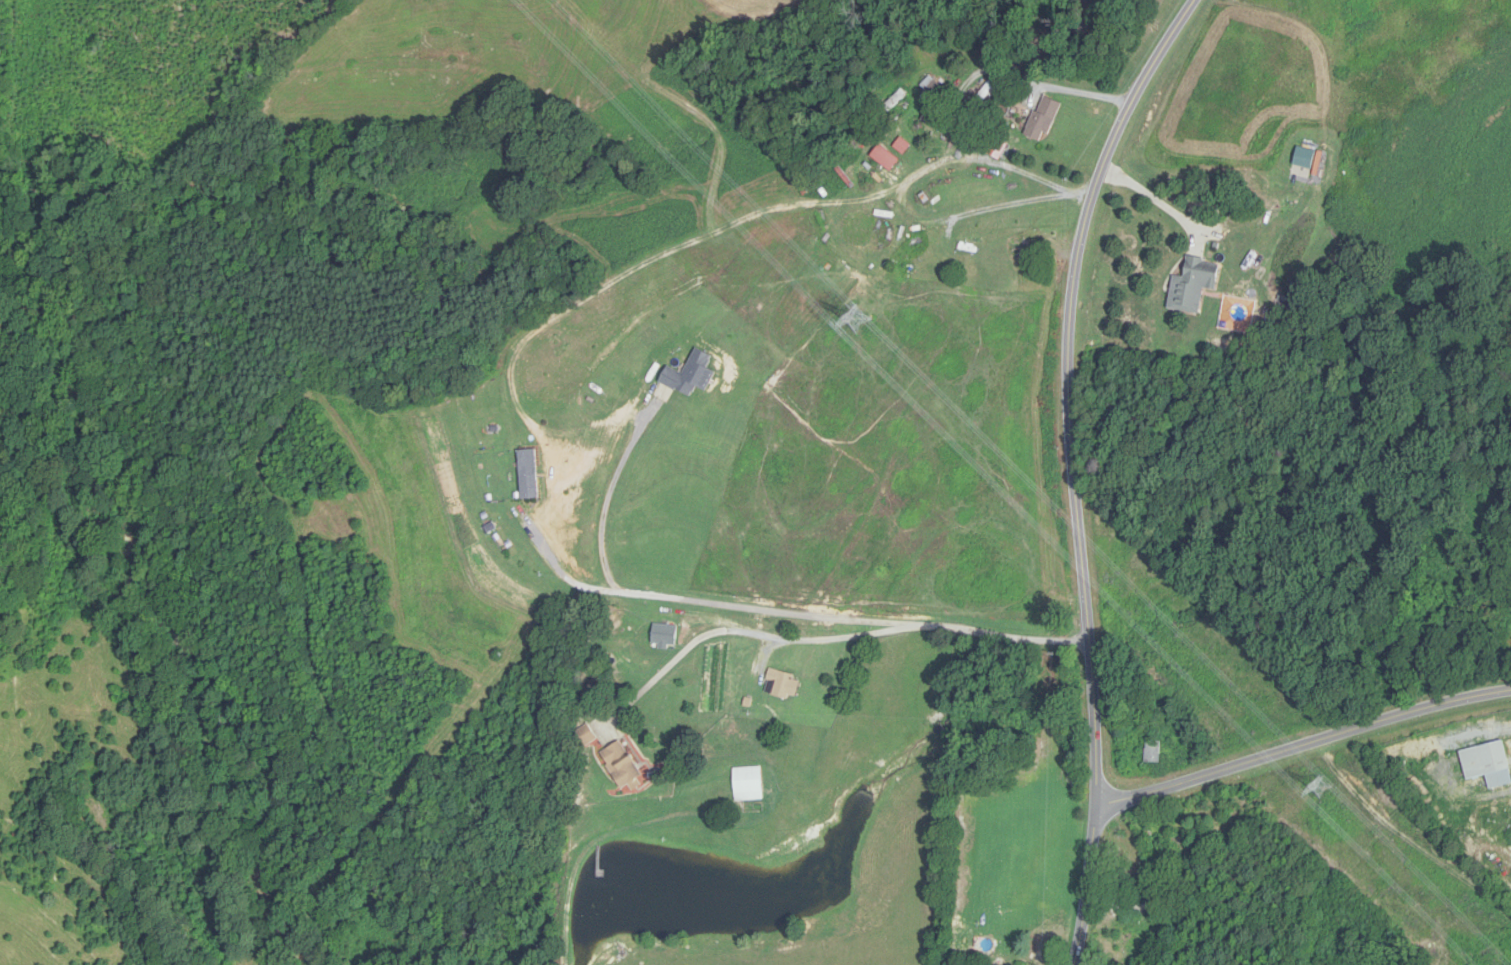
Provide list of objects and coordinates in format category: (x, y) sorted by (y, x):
building: (932, 86)
building: (983, 98)
building: (895, 101)
building: (1043, 120)
building: (902, 146)
building: (885, 158)
road: (908, 182)
road: (1161, 203)
building: (1193, 284)
power tower: (861, 323)
road: (1074, 469)
building: (528, 473)
road: (613, 485)
road: (560, 568)
road: (765, 609)
road: (832, 638)
building: (782, 685)
road: (1303, 746)
building: (1153, 752)
building: (621, 764)
building: (1488, 764)
building: (748, 784)
power tower: (1322, 789)

